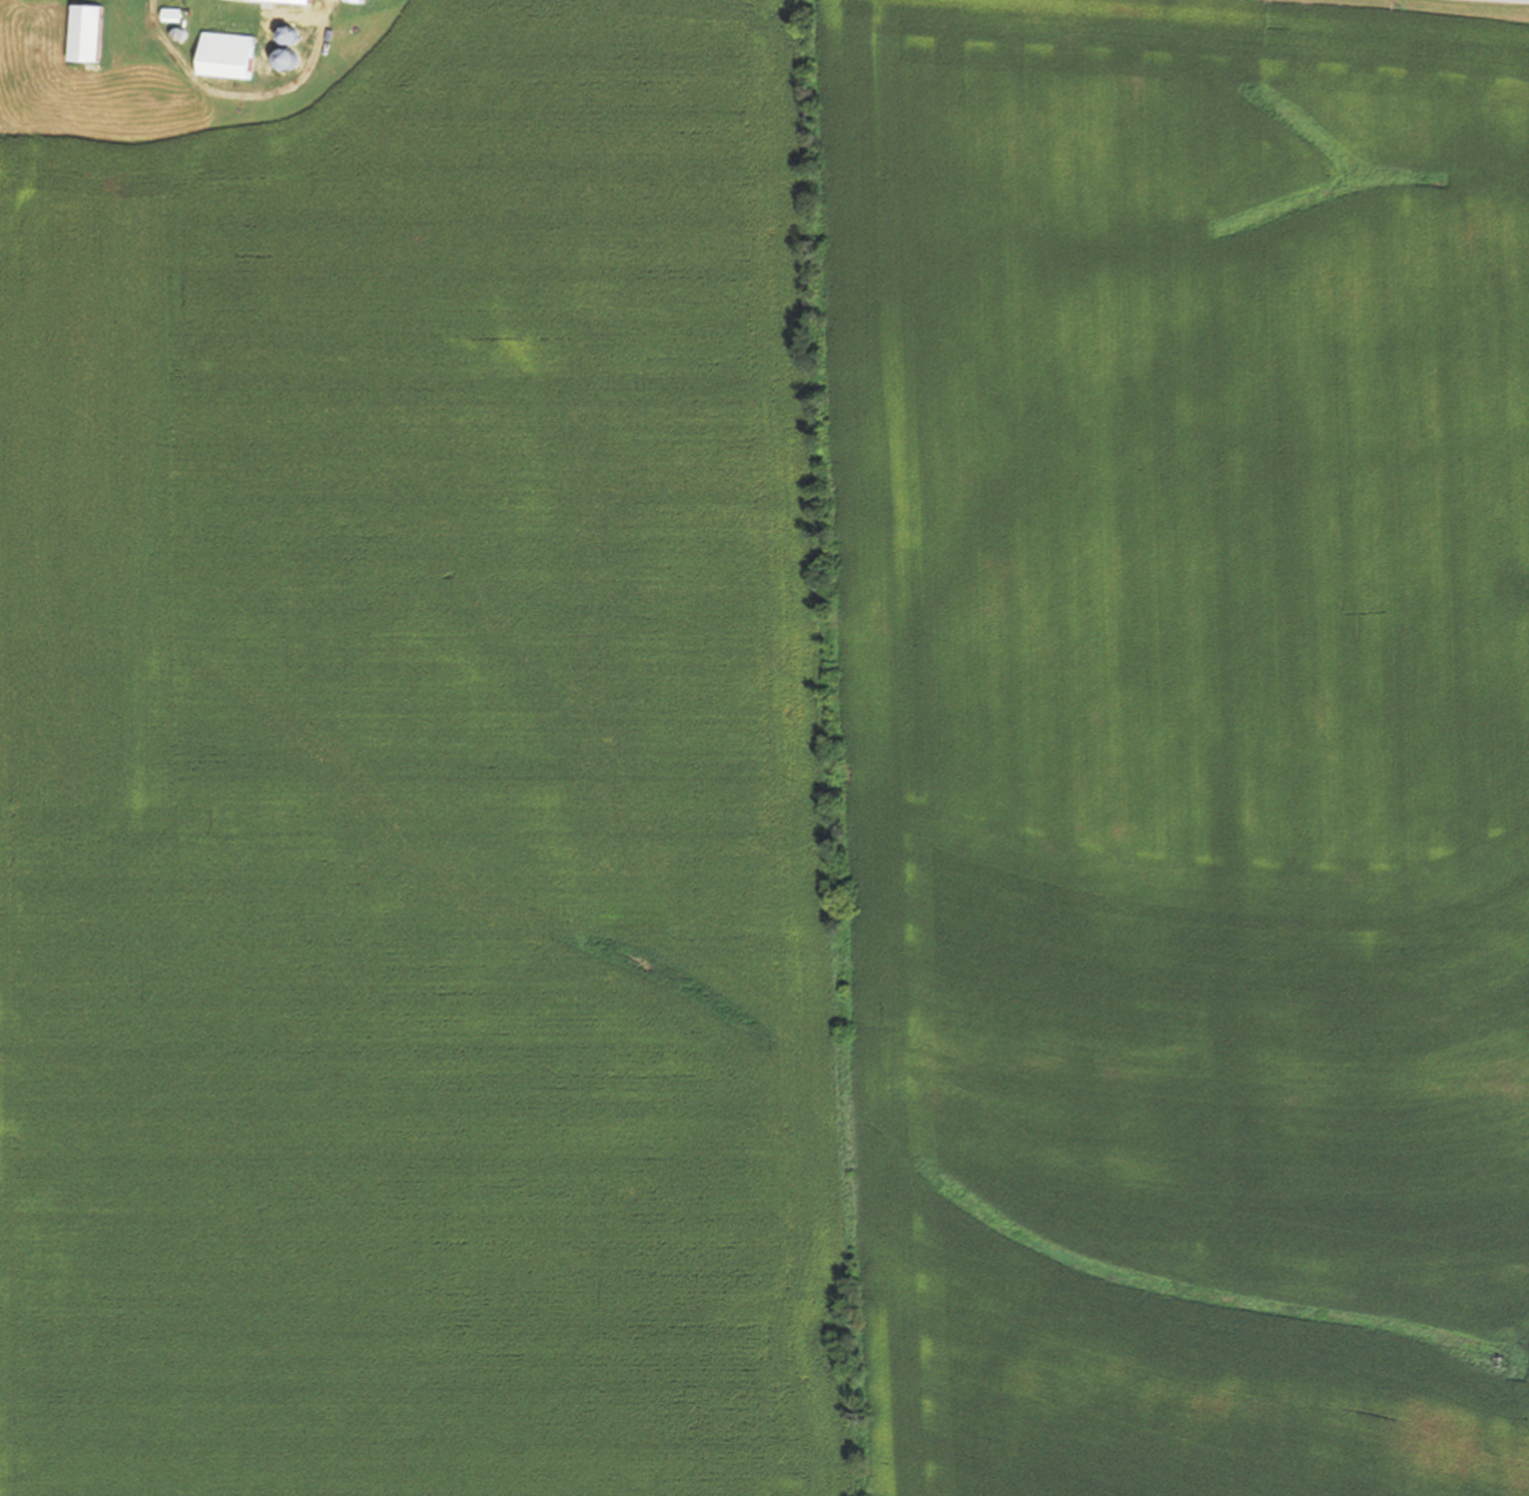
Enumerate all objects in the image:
building: (294, 1)
building: (361, 1)
building: (130, 15)

